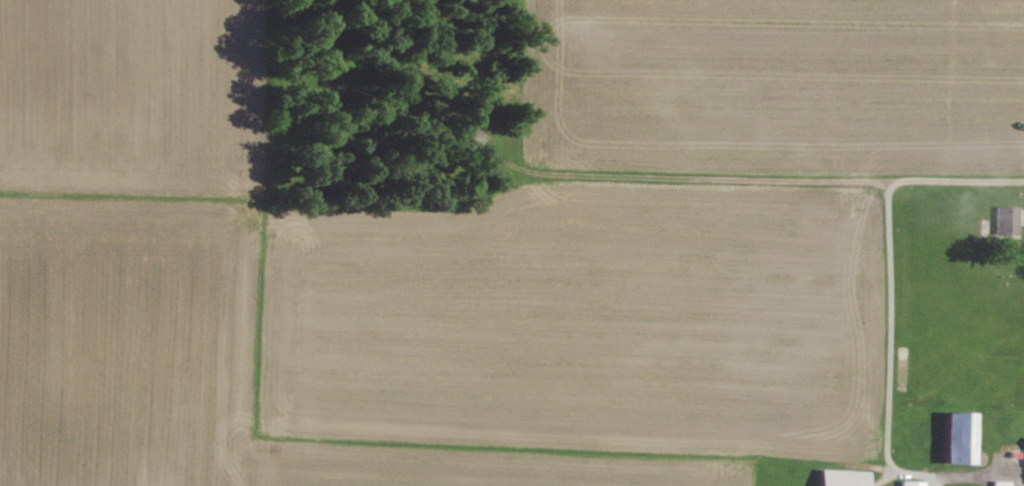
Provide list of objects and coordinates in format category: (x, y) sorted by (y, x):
building: (1008, 219)
road: (890, 323)
building: (961, 436)
building: (845, 477)
building: (913, 483)
building: (955, 485)

